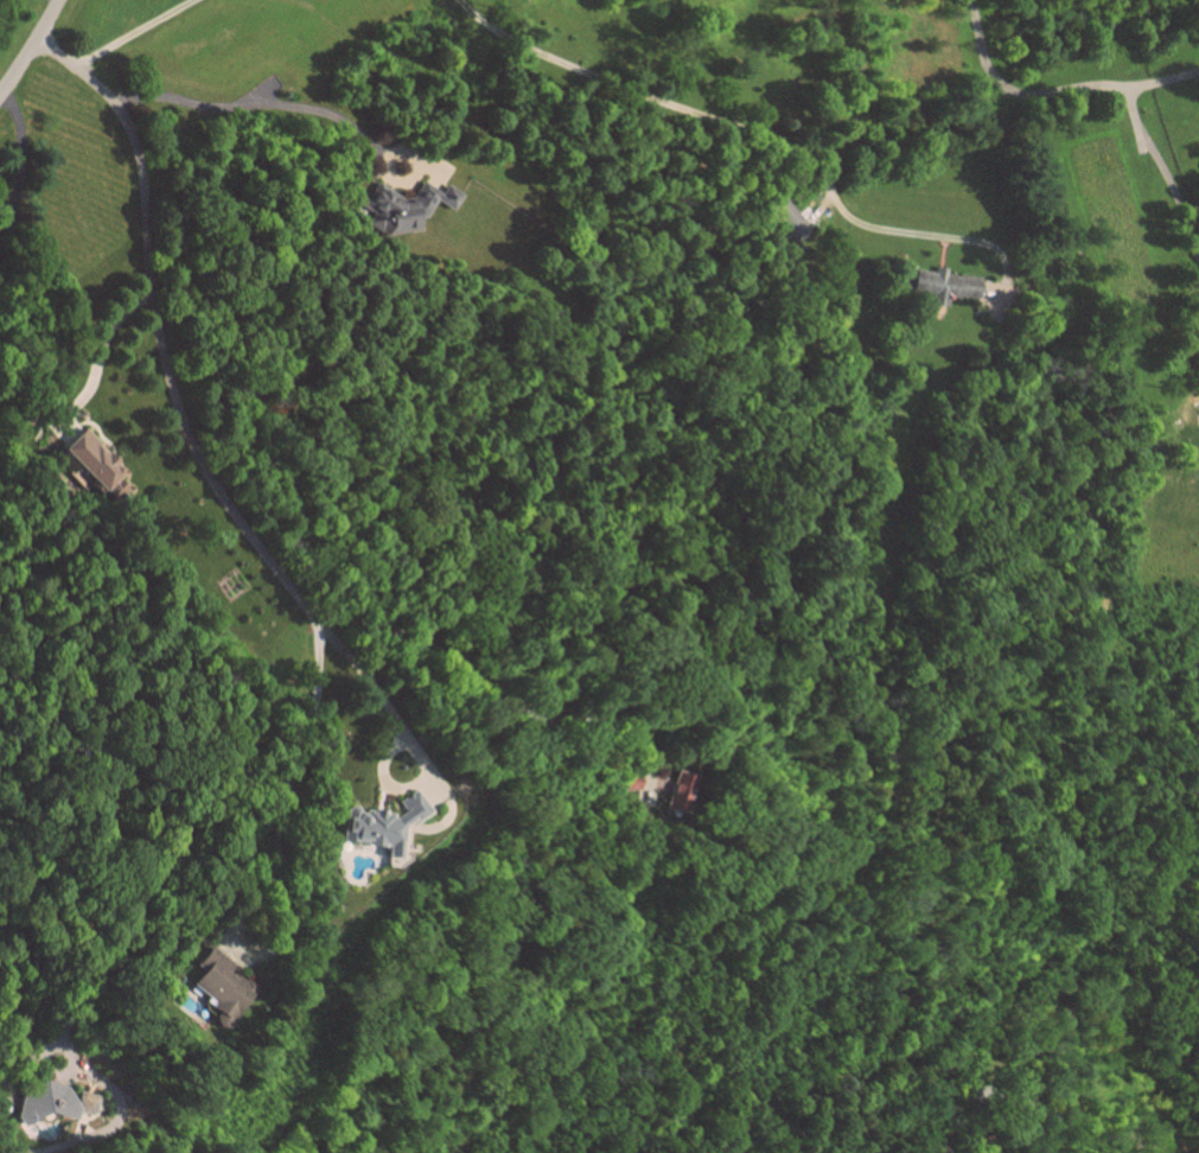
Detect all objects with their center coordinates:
road: (53, 4)
road: (134, 34)
road: (32, 47)
road: (1055, 89)
road: (256, 104)
road: (725, 121)
road: (21, 158)
road: (1159, 172)
building: (409, 208)
building: (798, 227)
building: (948, 286)
road: (98, 356)
road: (162, 356)
building: (100, 460)
road: (396, 724)
road: (295, 769)
road: (377, 776)
building: (676, 790)
building: (376, 820)
road: (237, 919)
building: (225, 987)
road: (20, 1065)
road: (55, 1071)
building: (53, 1103)

